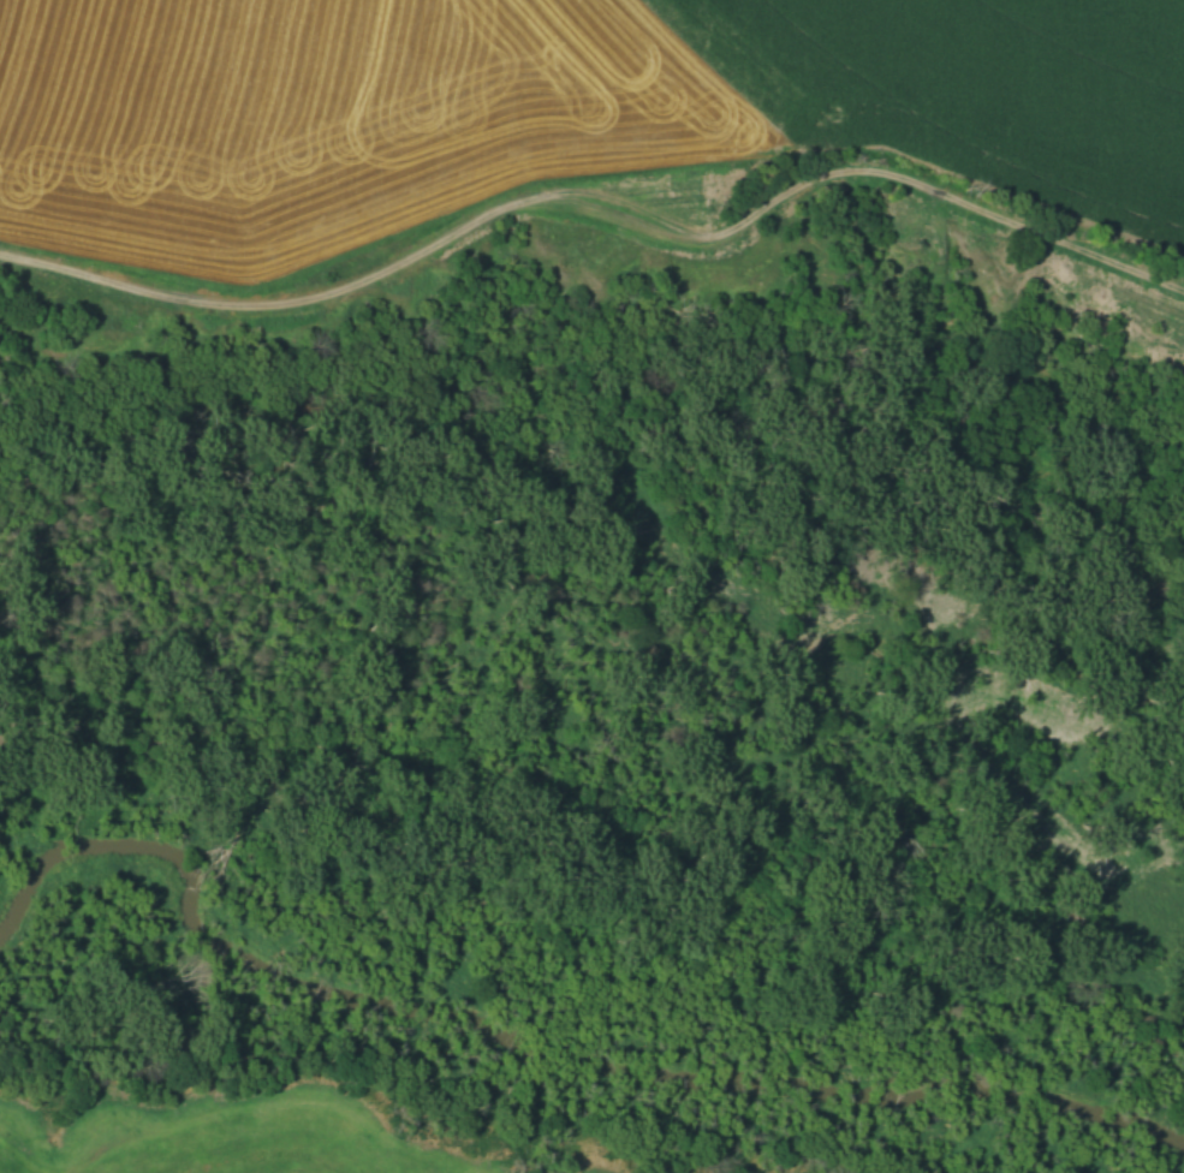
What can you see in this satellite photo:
crop: (971, 91)
crop: (319, 118)
park: (589, 748)
crop: (275, 1143)
crop: (6, 1167)

